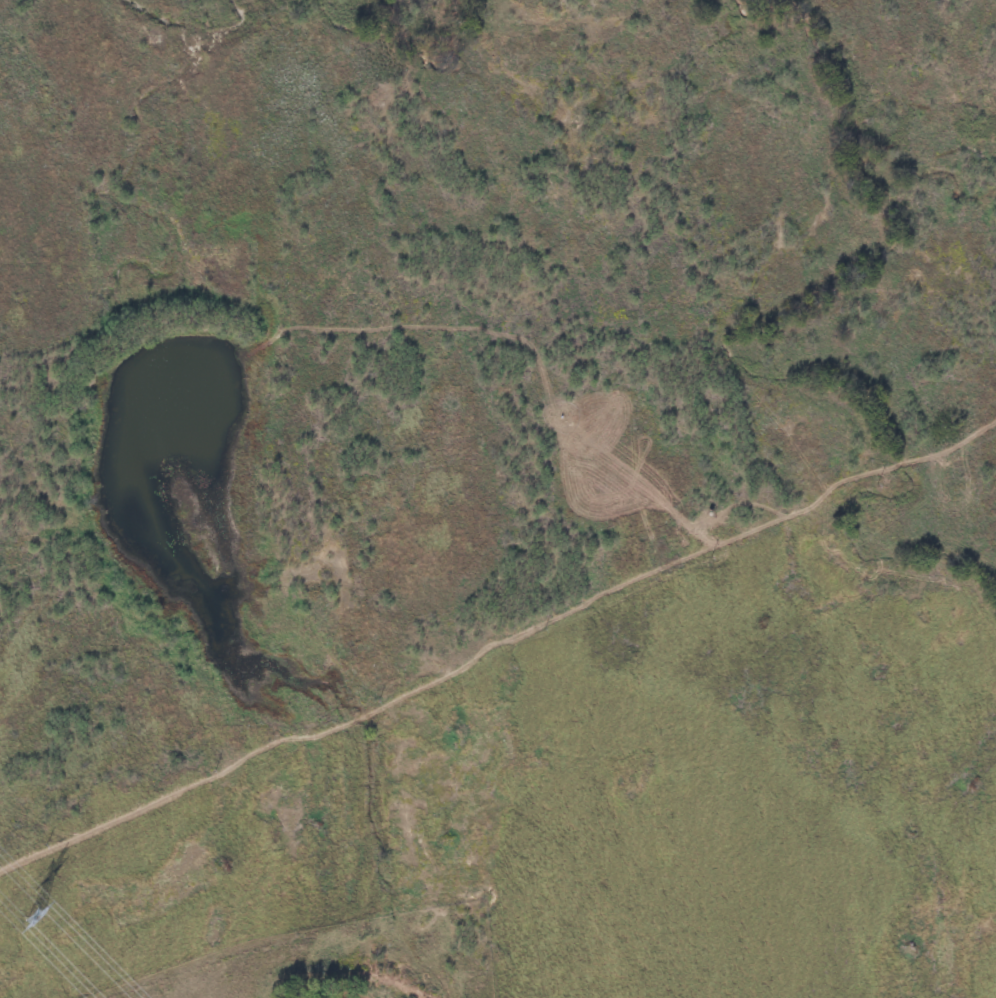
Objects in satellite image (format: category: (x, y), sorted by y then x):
power tower: (33, 914)

